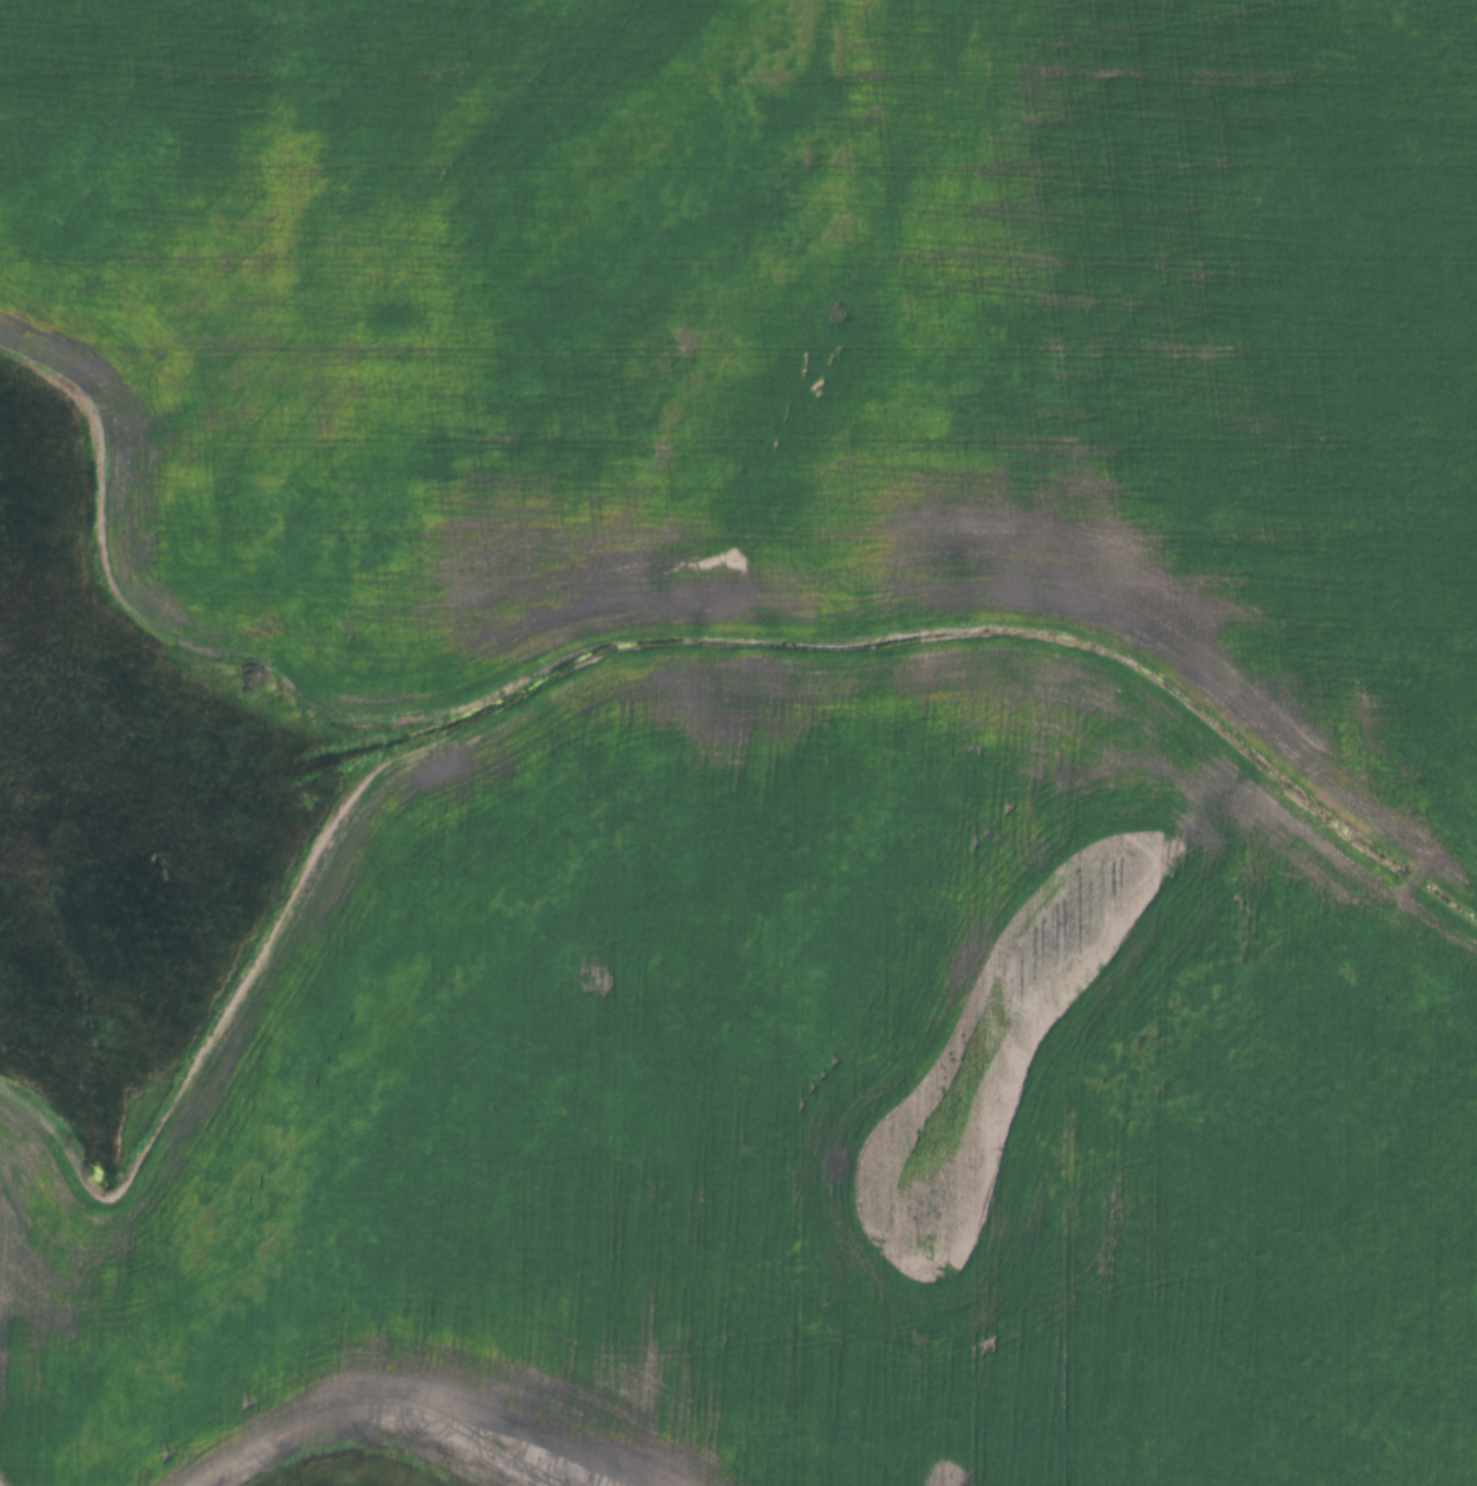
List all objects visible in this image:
road: (1440, 914)

